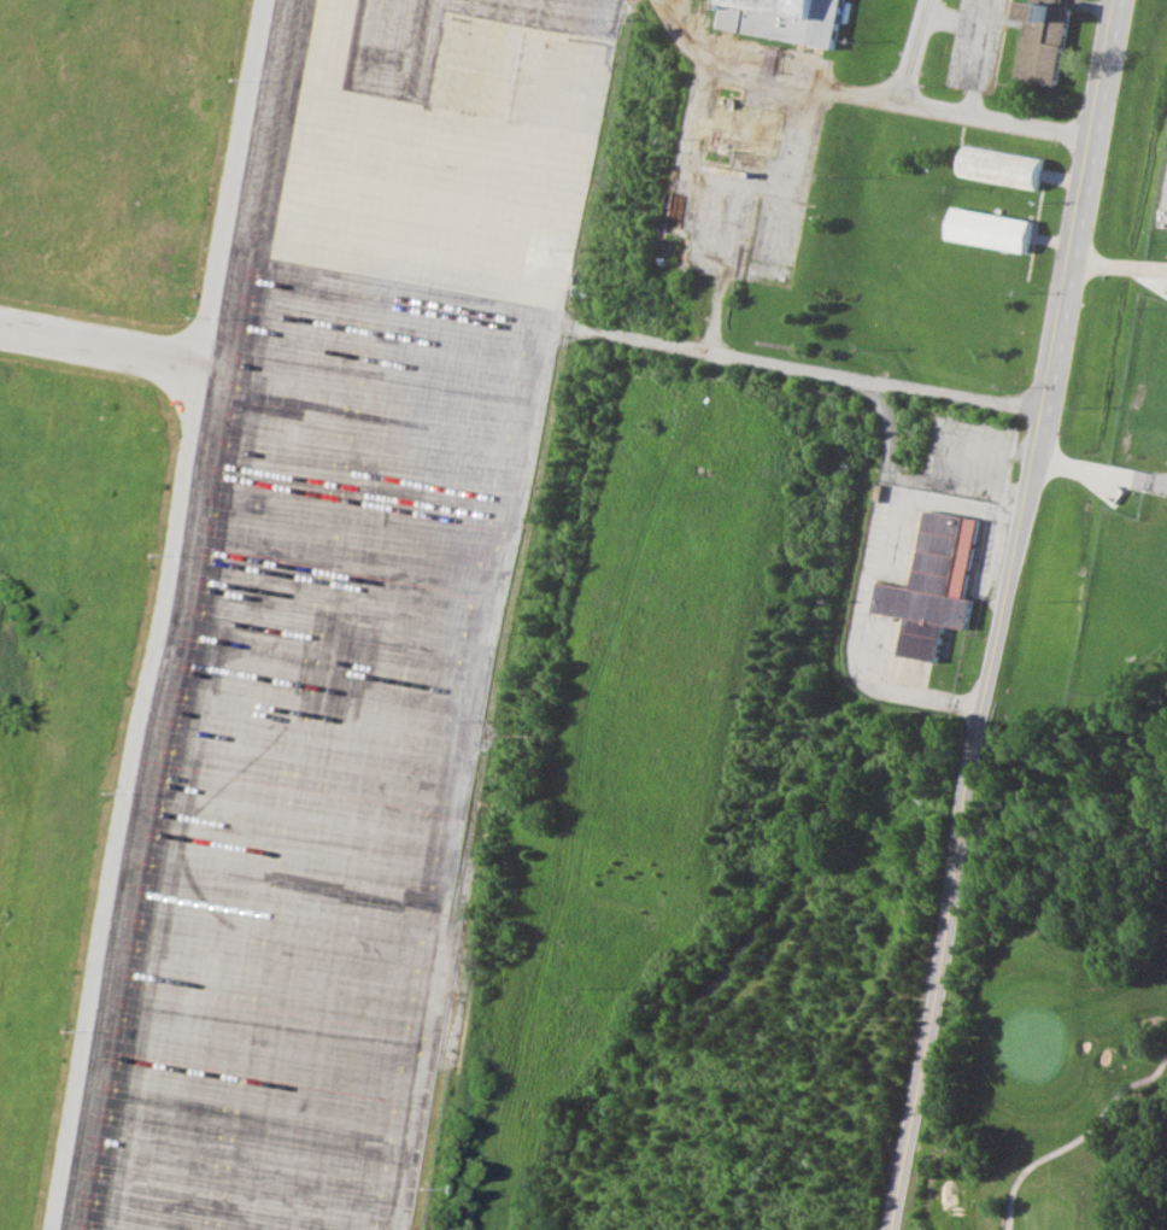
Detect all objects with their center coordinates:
airport hangar: (782, 18)
building: (782, 18)
building: (1040, 40)
parking lot: (969, 42)
road: (693, 54)
road: (834, 87)
road: (944, 109)
building: (997, 165)
road: (1061, 177)
building: (985, 229)
road: (1050, 240)
road: (1118, 263)
road: (717, 320)
road: (807, 368)
road: (880, 422)
road: (1099, 470)
building: (931, 585)
road: (998, 614)
road: (887, 689)
road: (582, 784)
park: (1055, 1054)

